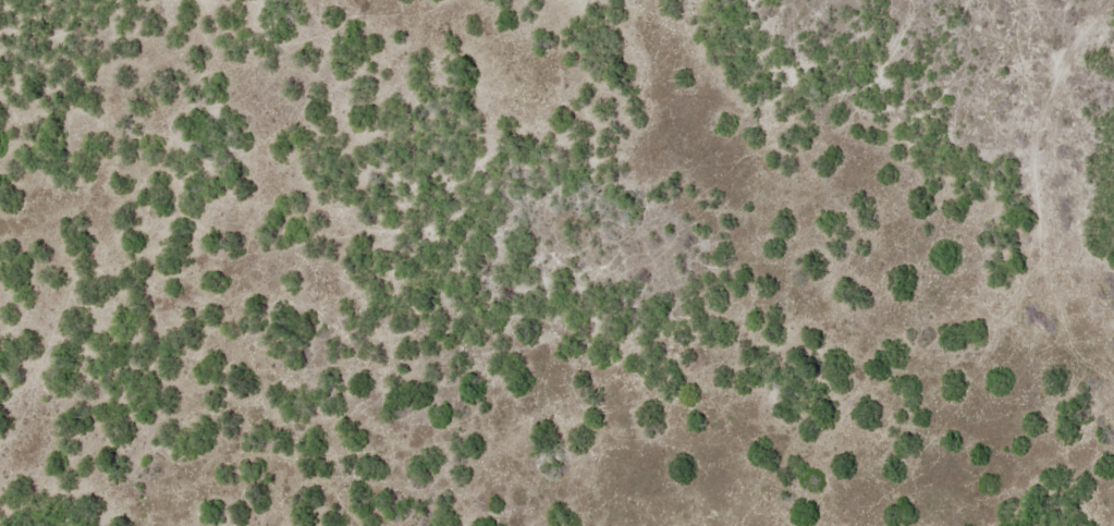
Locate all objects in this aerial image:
road: (1082, 184)

